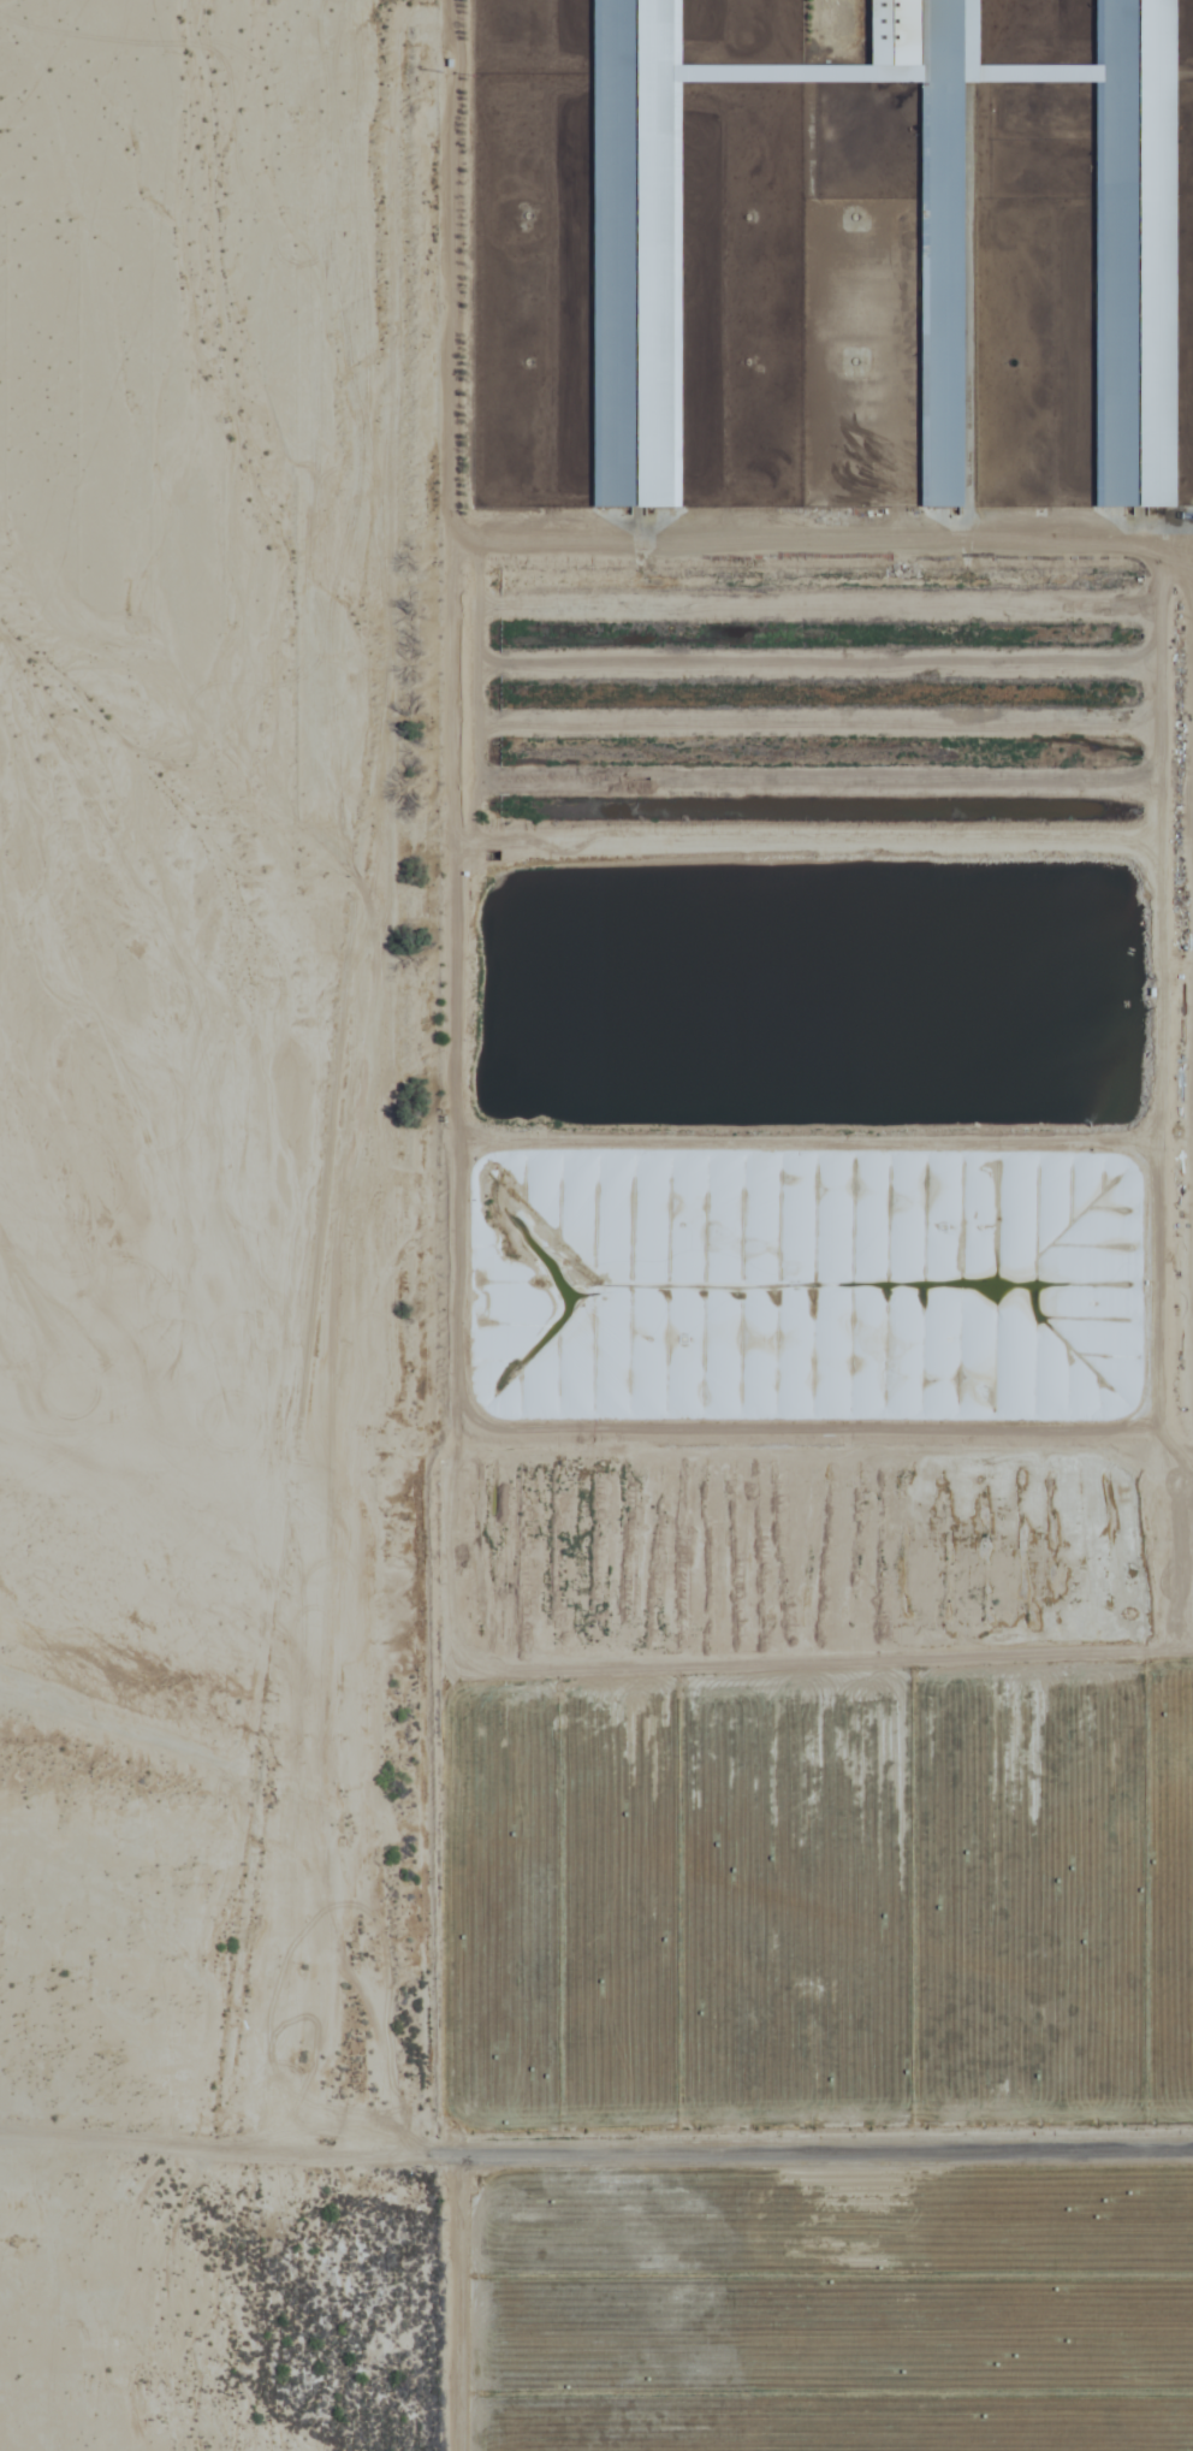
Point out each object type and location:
building: (932, 207)
building: (627, 253)
building: (1133, 253)
crop: (813, 1229)
building: (771, 1292)
road: (595, 2160)

